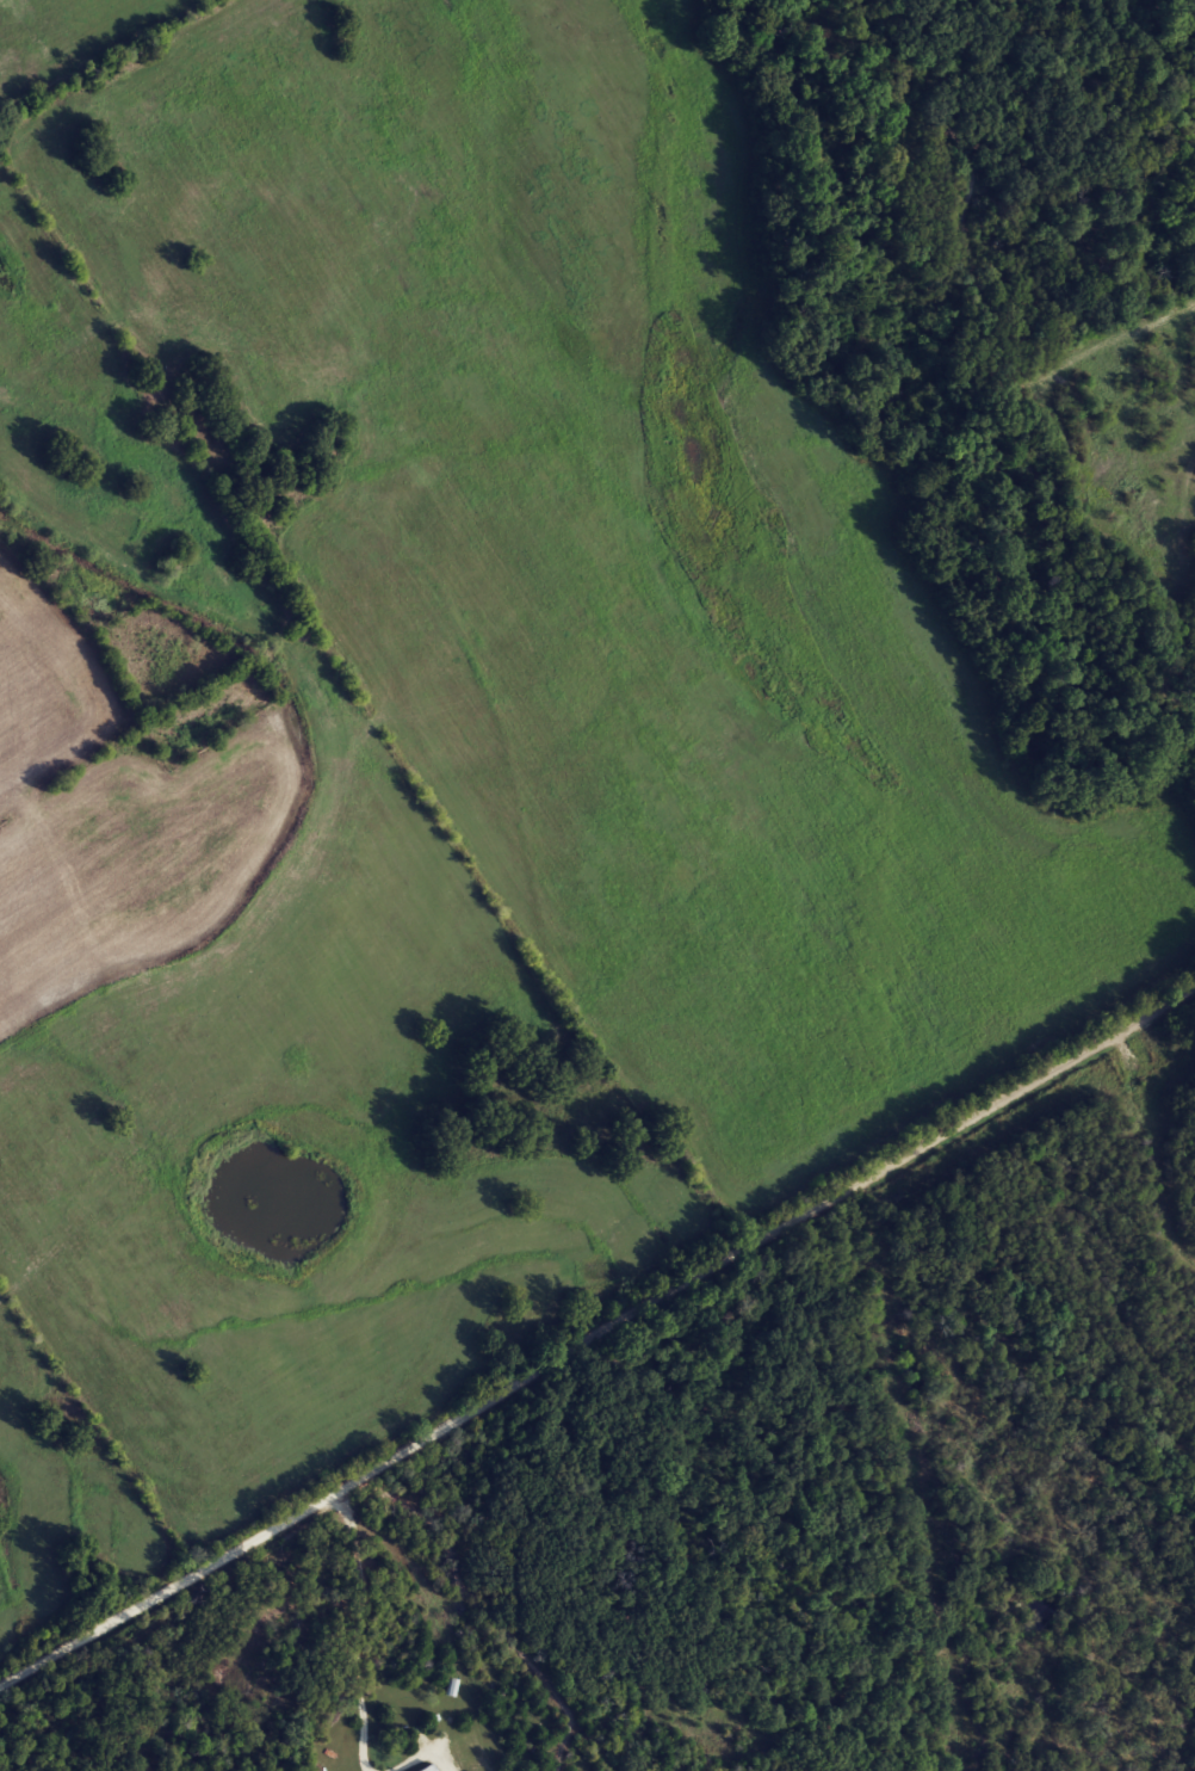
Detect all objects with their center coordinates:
road: (136, 572)
road: (1086, 1044)
road: (490, 1396)
road: (361, 1628)
road: (420, 1763)
building: (435, 1767)

